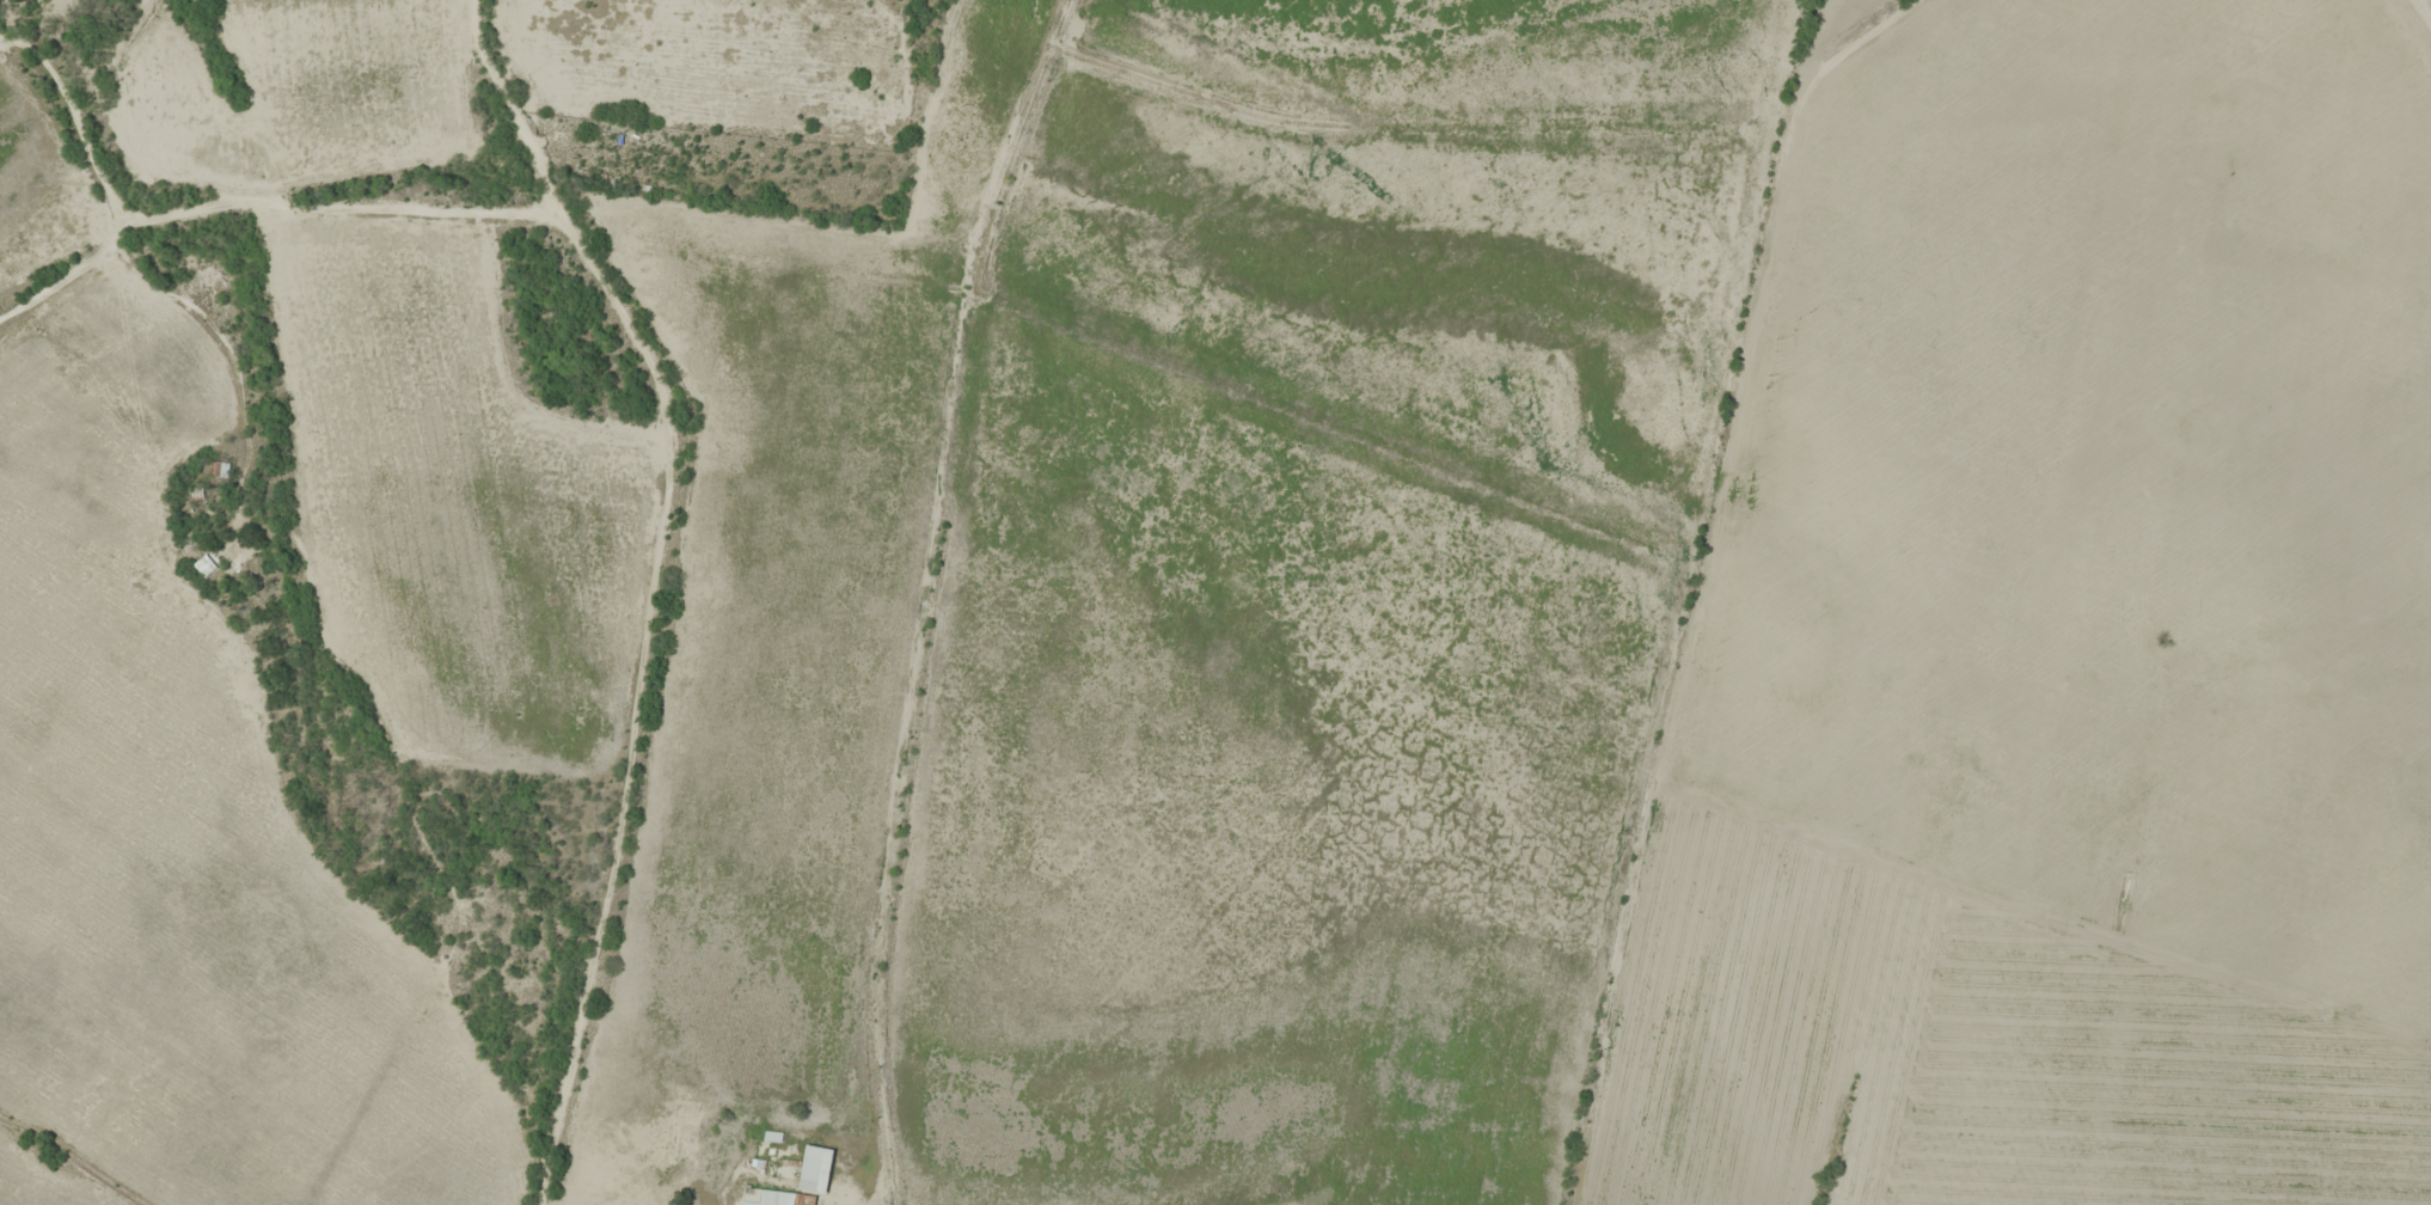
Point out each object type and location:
road: (2421, 12)
road: (521, 110)
road: (74, 283)
road: (663, 366)
building: (235, 471)

